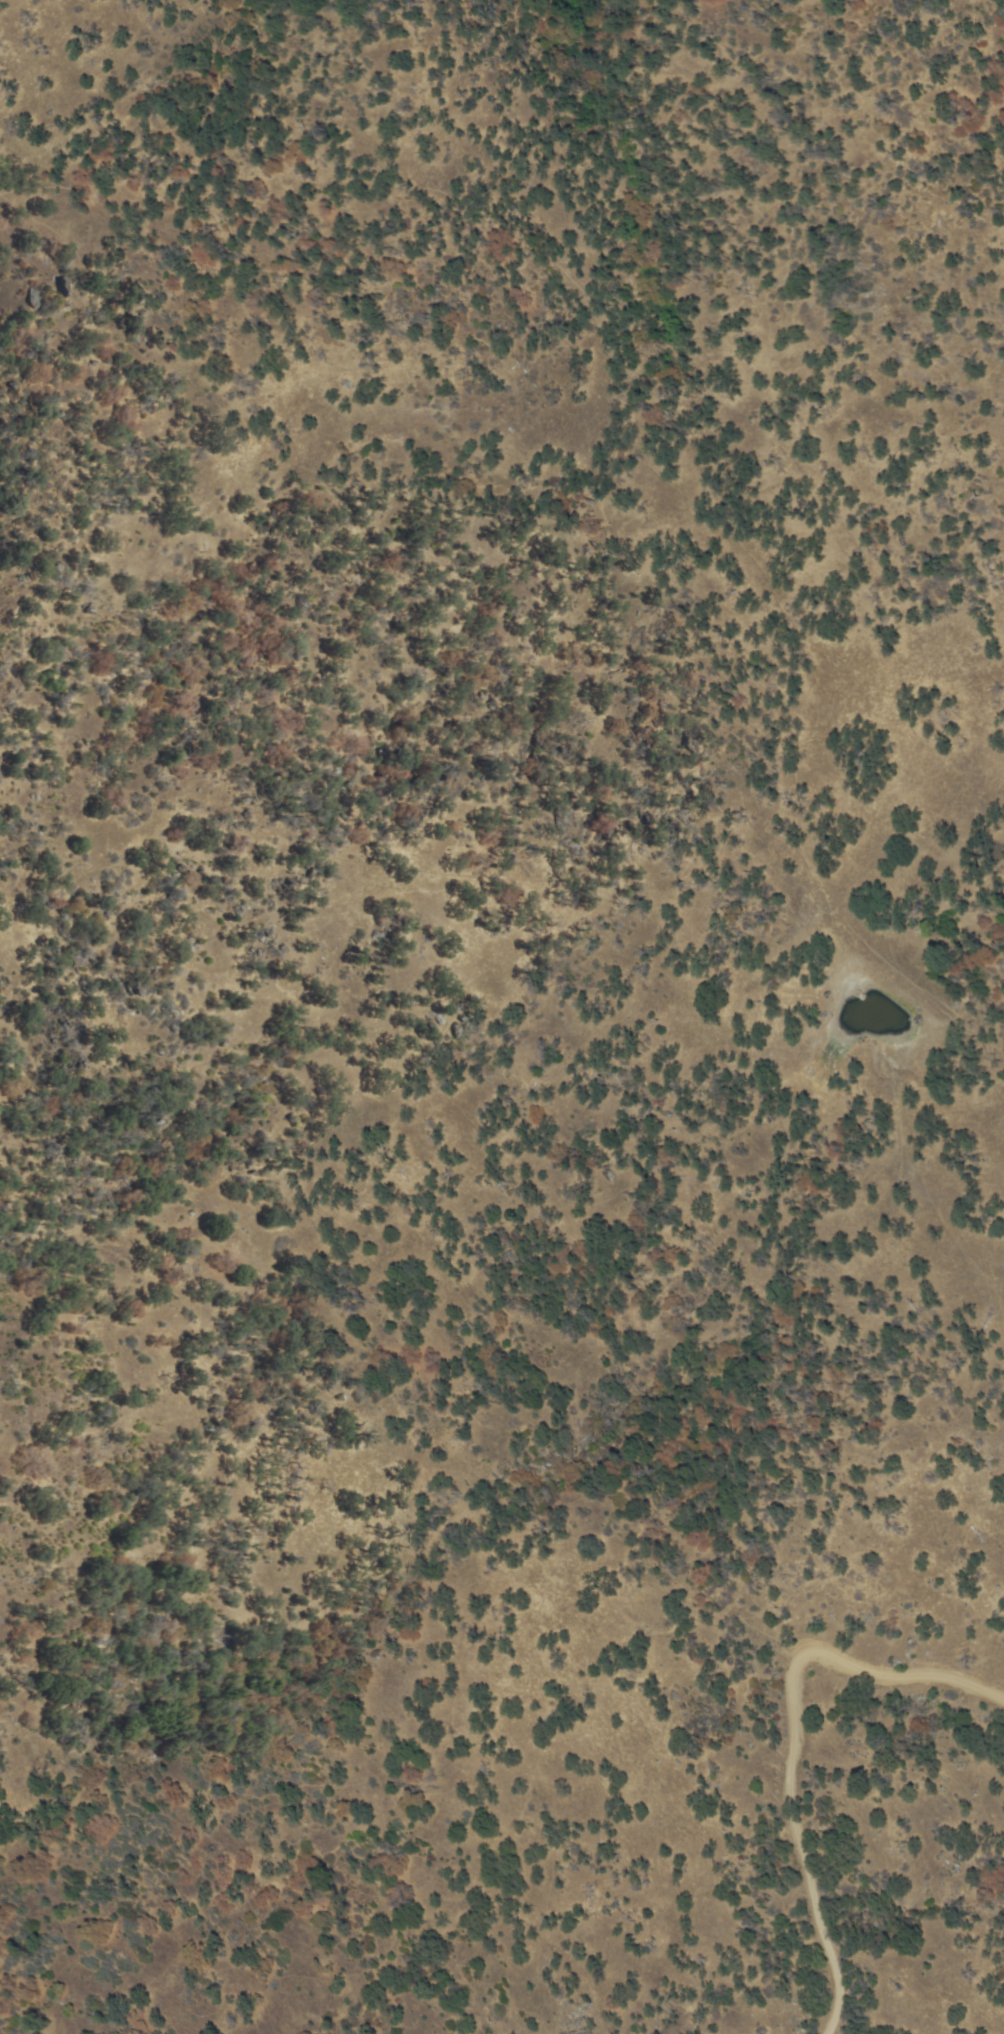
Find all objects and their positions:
road: (793, 1744)

